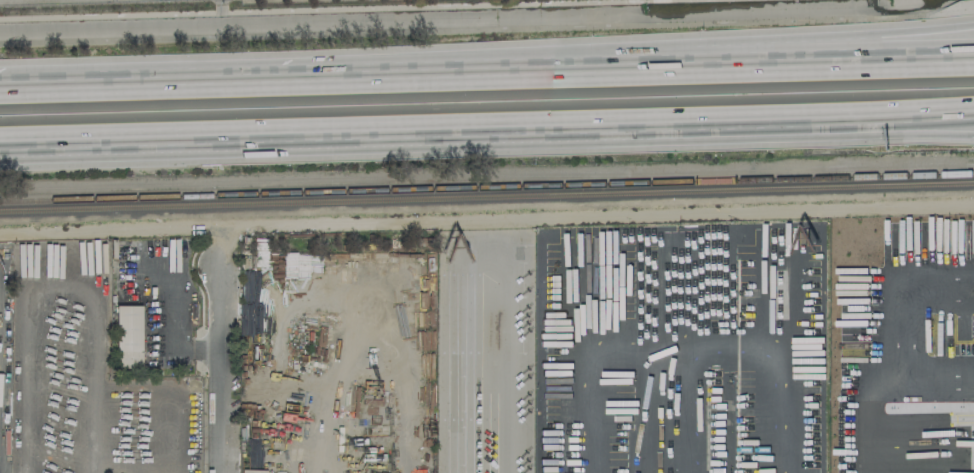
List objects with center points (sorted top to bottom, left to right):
road: (599, 45)
road: (487, 77)
road: (789, 111)
road: (301, 129)
road: (788, 136)
railway: (487, 188)
railway: (487, 199)
road: (895, 285)
road: (379, 319)
road: (684, 332)
building: (127, 336)
road: (505, 361)
road: (220, 372)
road: (933, 386)

